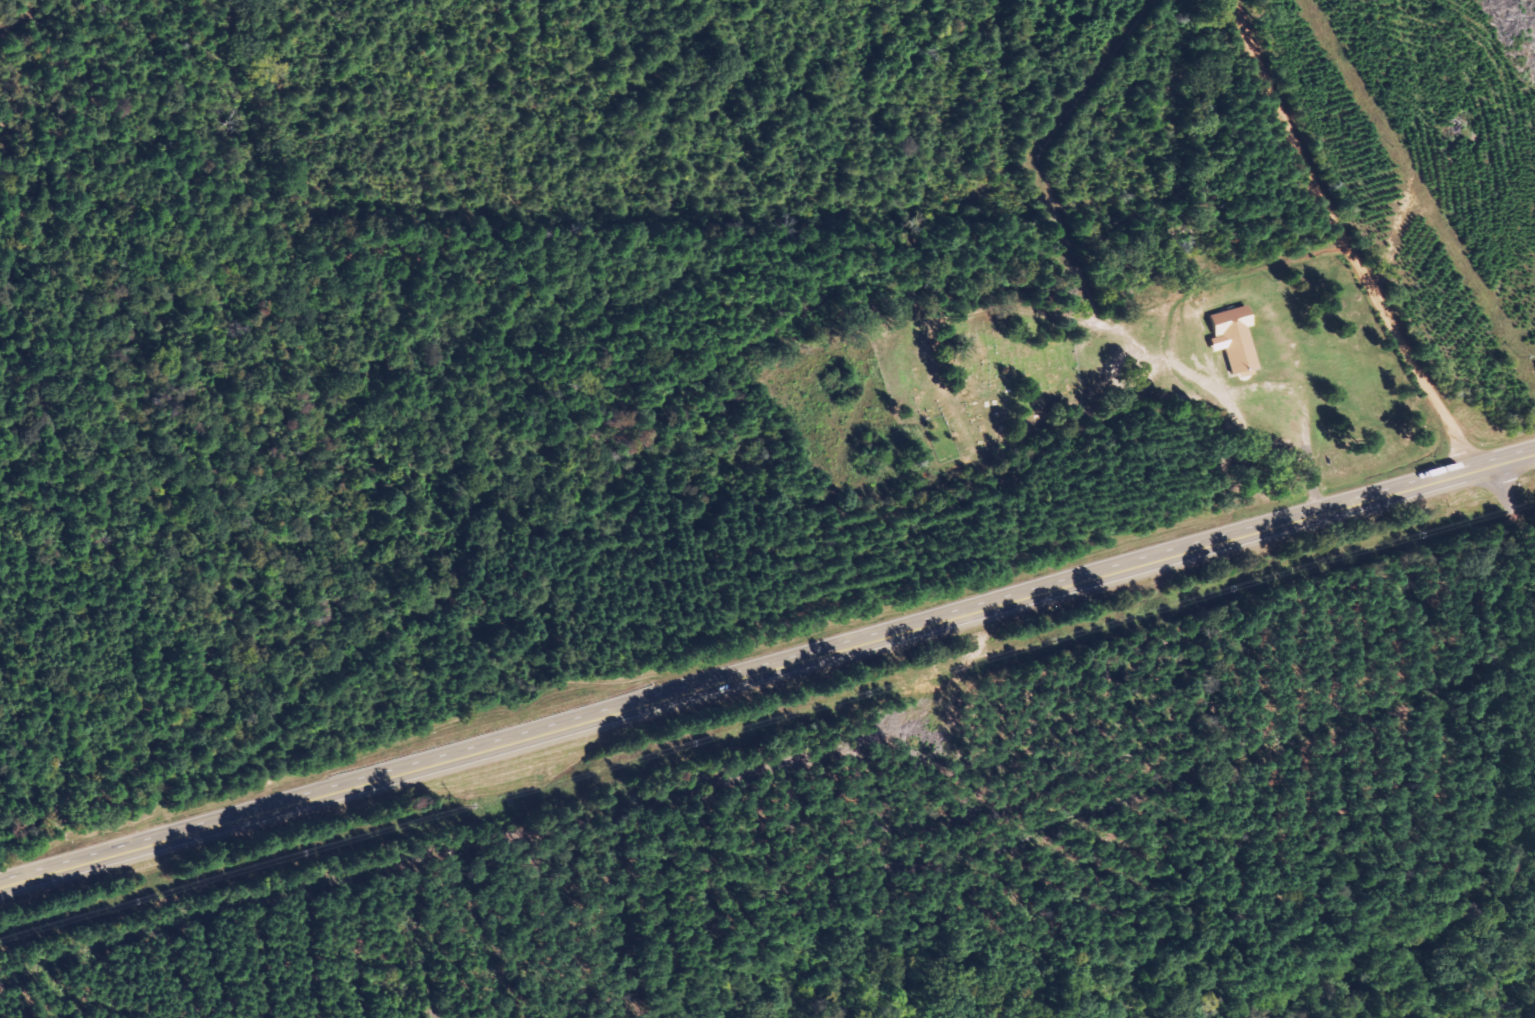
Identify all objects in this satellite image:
road: (1256, 9)
road: (1342, 255)
building: (1237, 339)
park: (987, 386)
road: (1508, 521)
road: (767, 667)

